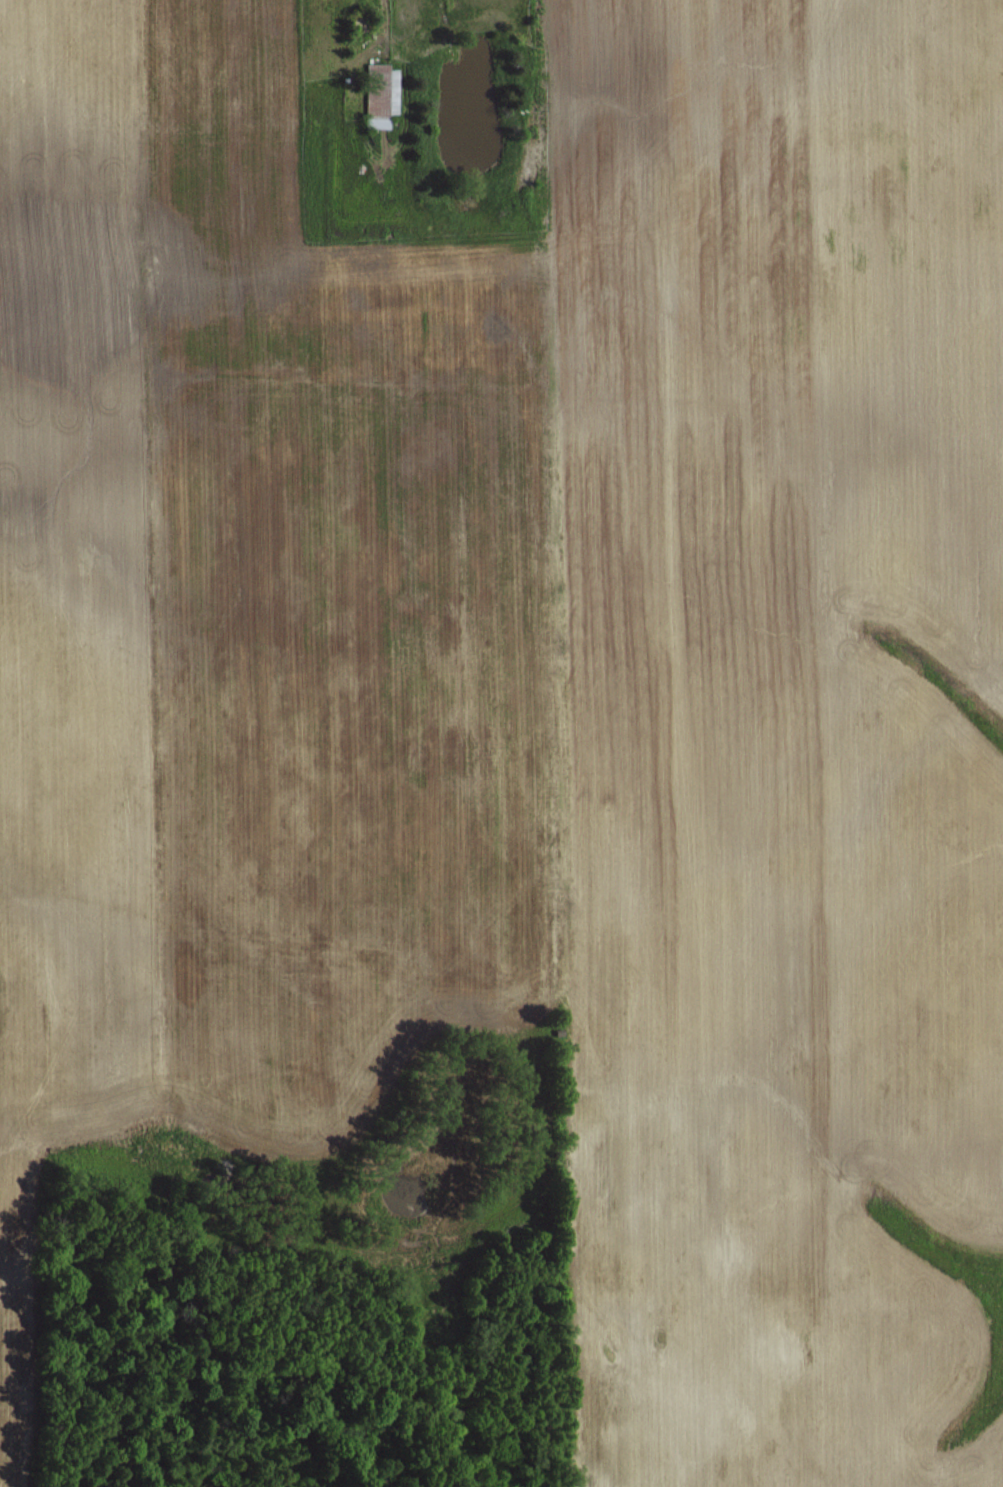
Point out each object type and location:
building: (382, 94)

